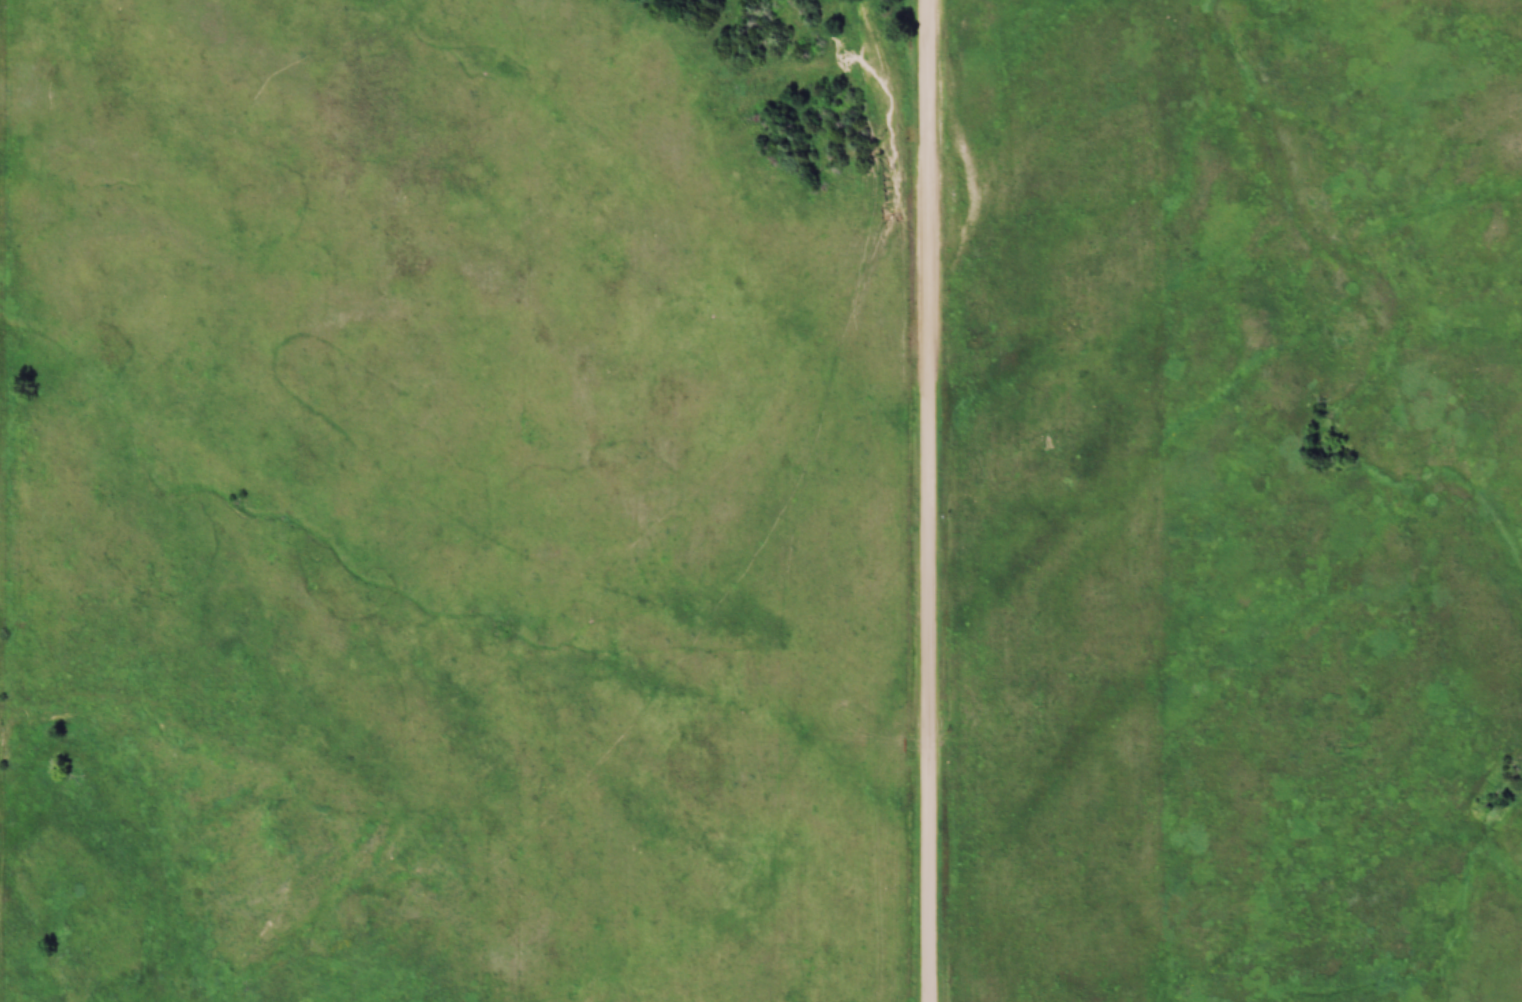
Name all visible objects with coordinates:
road: (928, 500)

